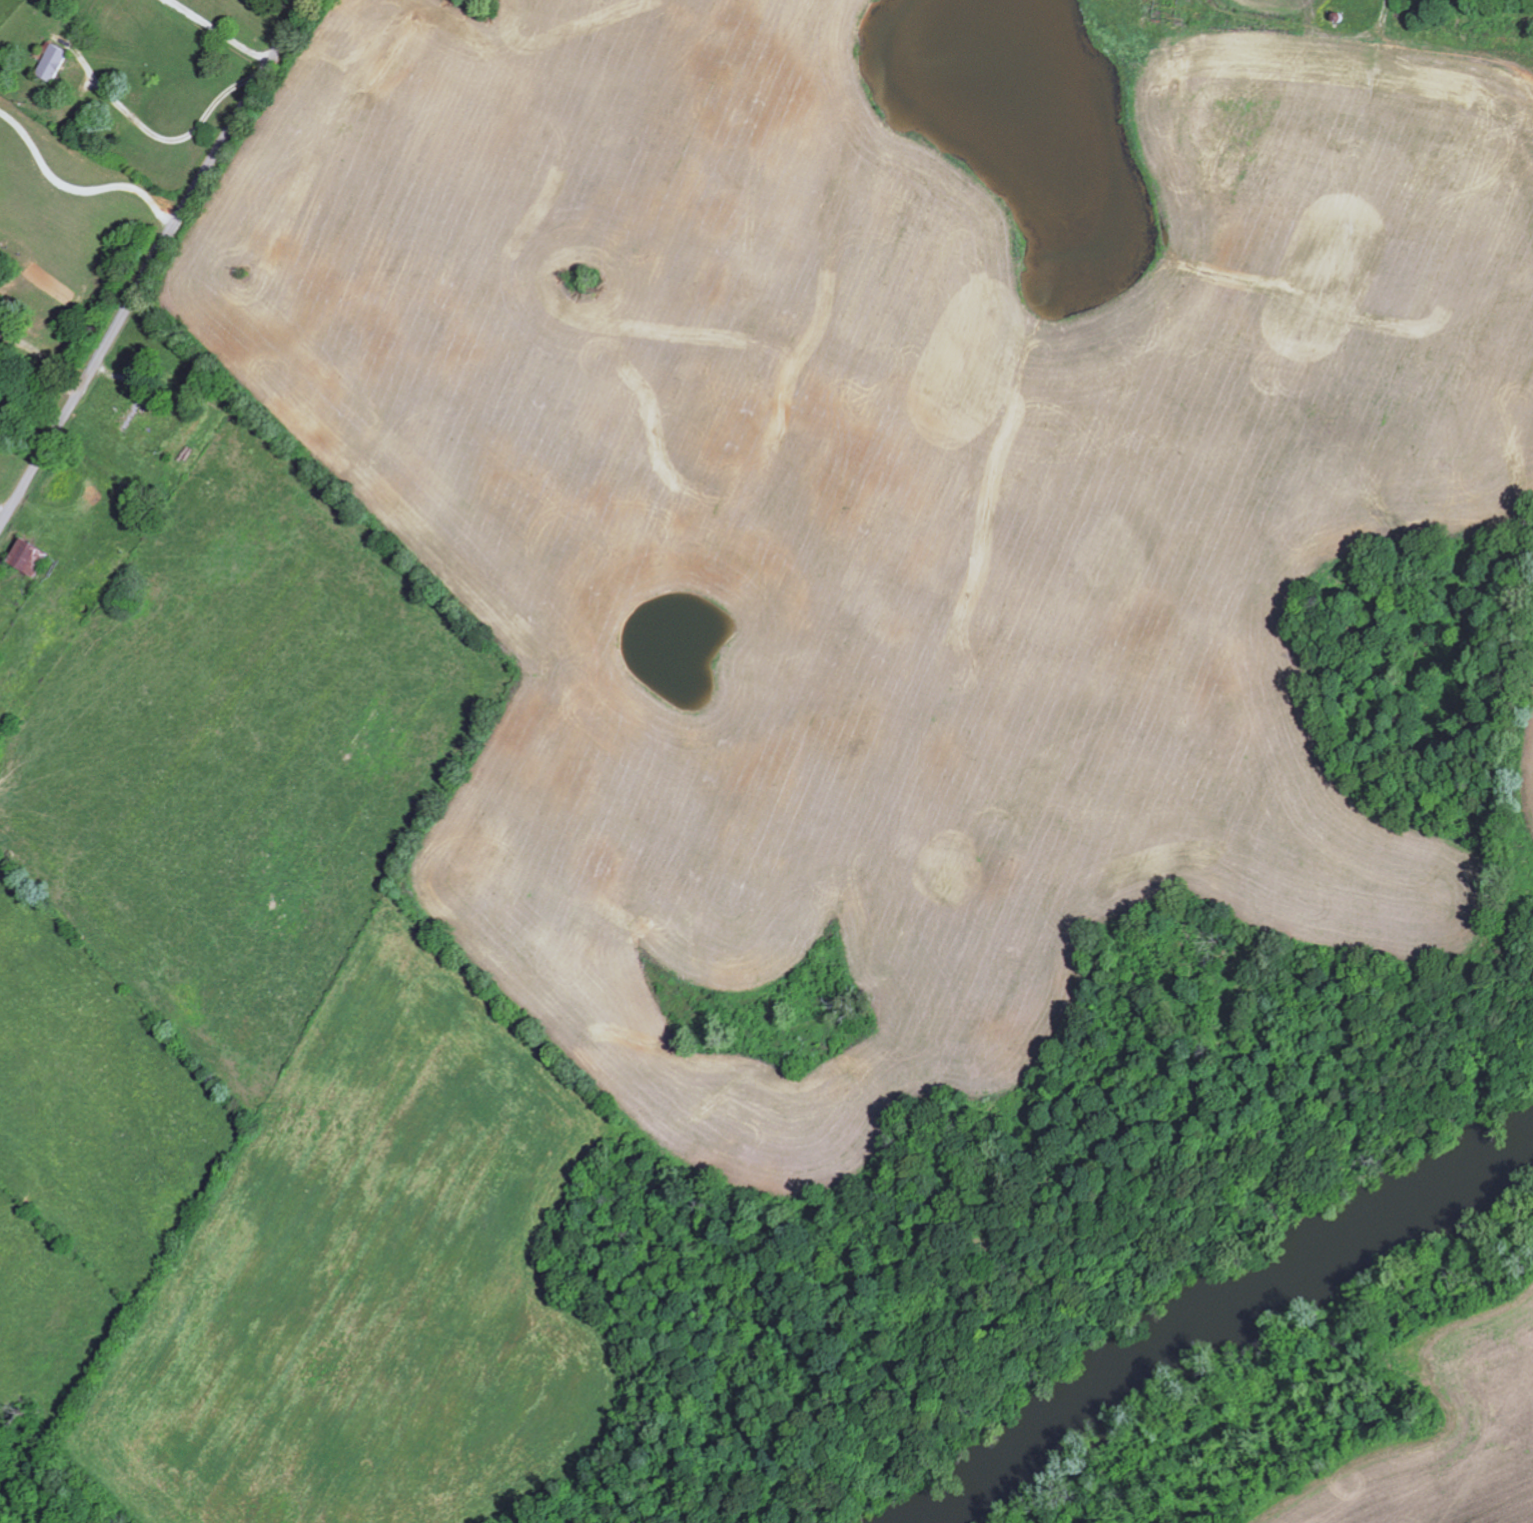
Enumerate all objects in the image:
road: (221, 30)
building: (50, 62)
road: (77, 189)
road: (154, 261)
building: (22, 557)
river: (1213, 1326)

